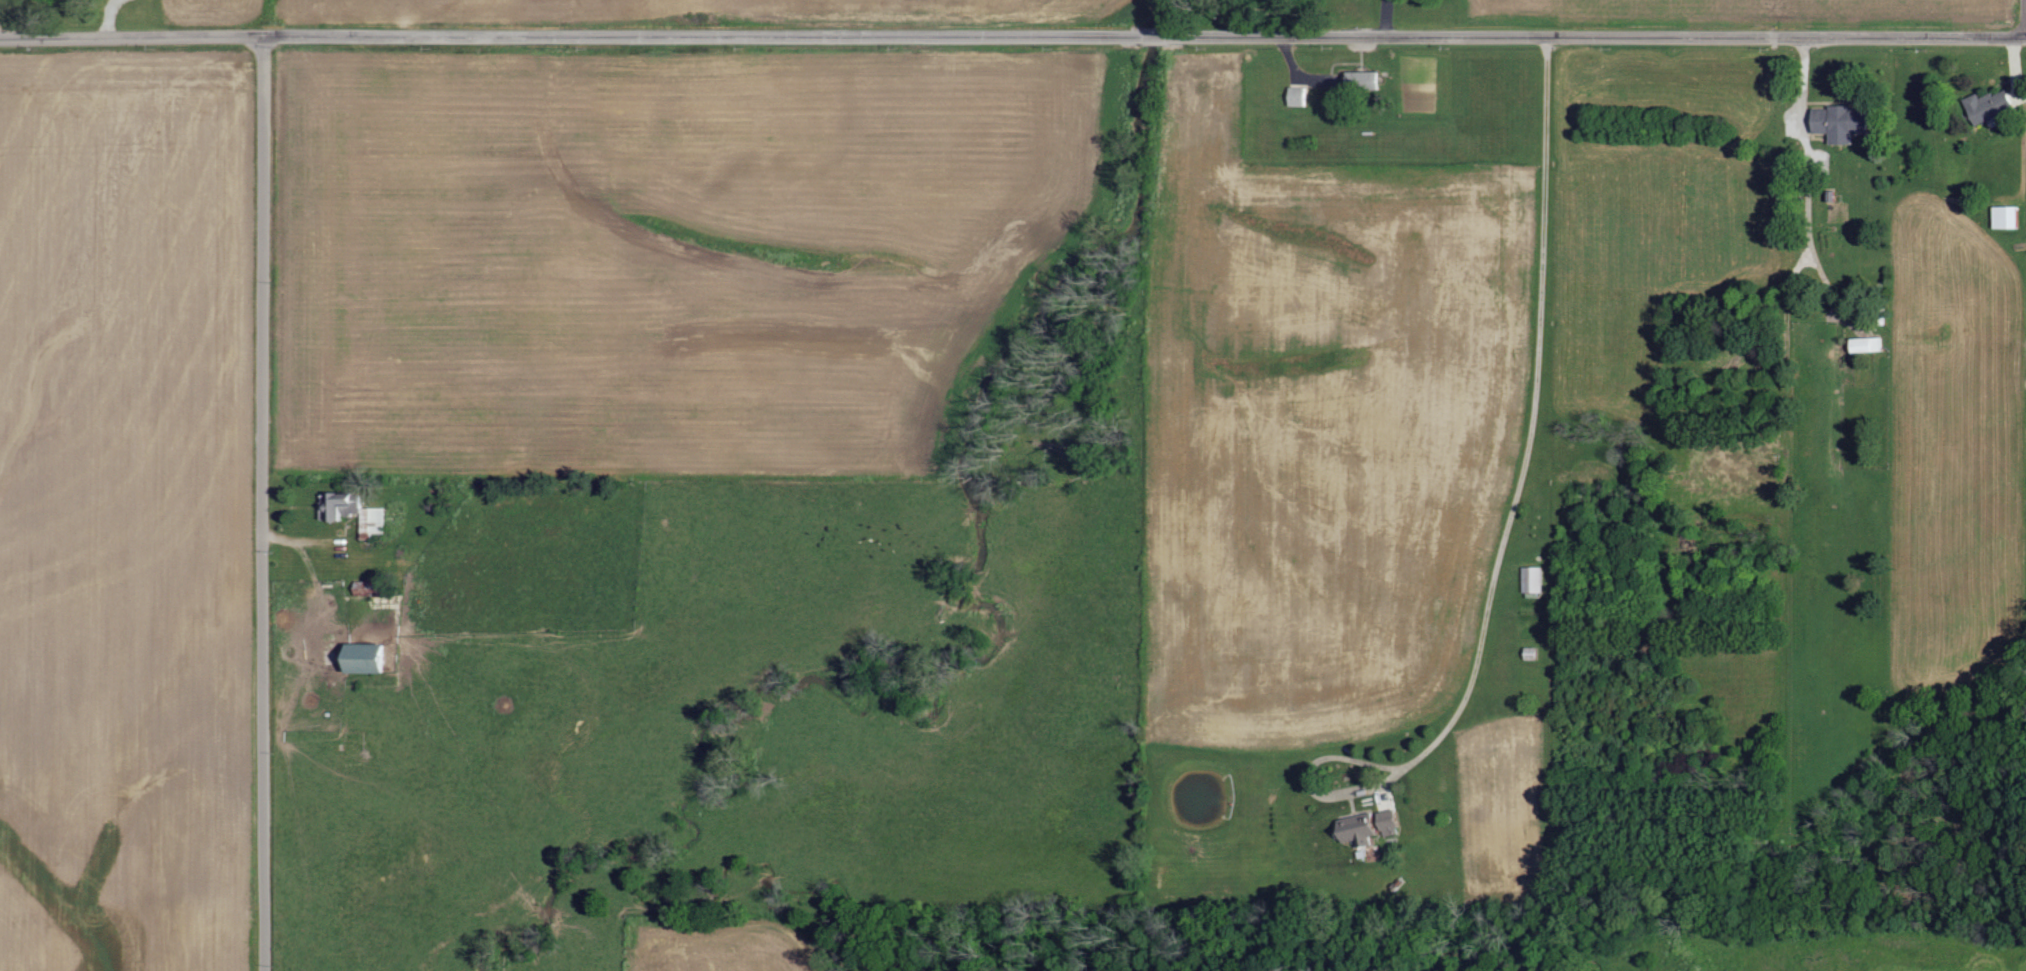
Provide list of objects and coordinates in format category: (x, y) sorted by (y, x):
road: (1597, 36)
road: (569, 38)
road: (1155, 38)
building: (1361, 79)
building: (1294, 96)
building: (1984, 106)
building: (1835, 123)
building: (2003, 217)
building: (1864, 345)
road: (263, 504)
building: (353, 513)
building: (1530, 580)
building: (360, 661)
building: (1388, 827)
building: (1356, 830)

